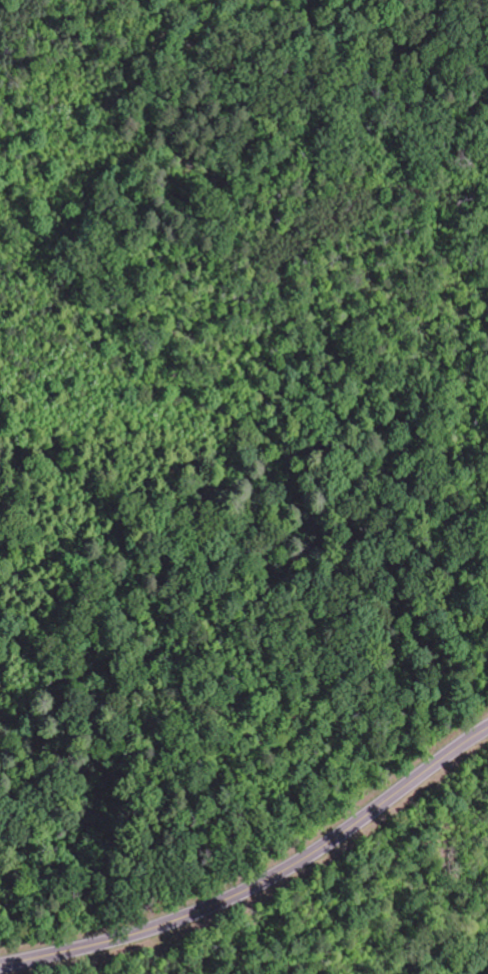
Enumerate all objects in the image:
road: (262, 874)

